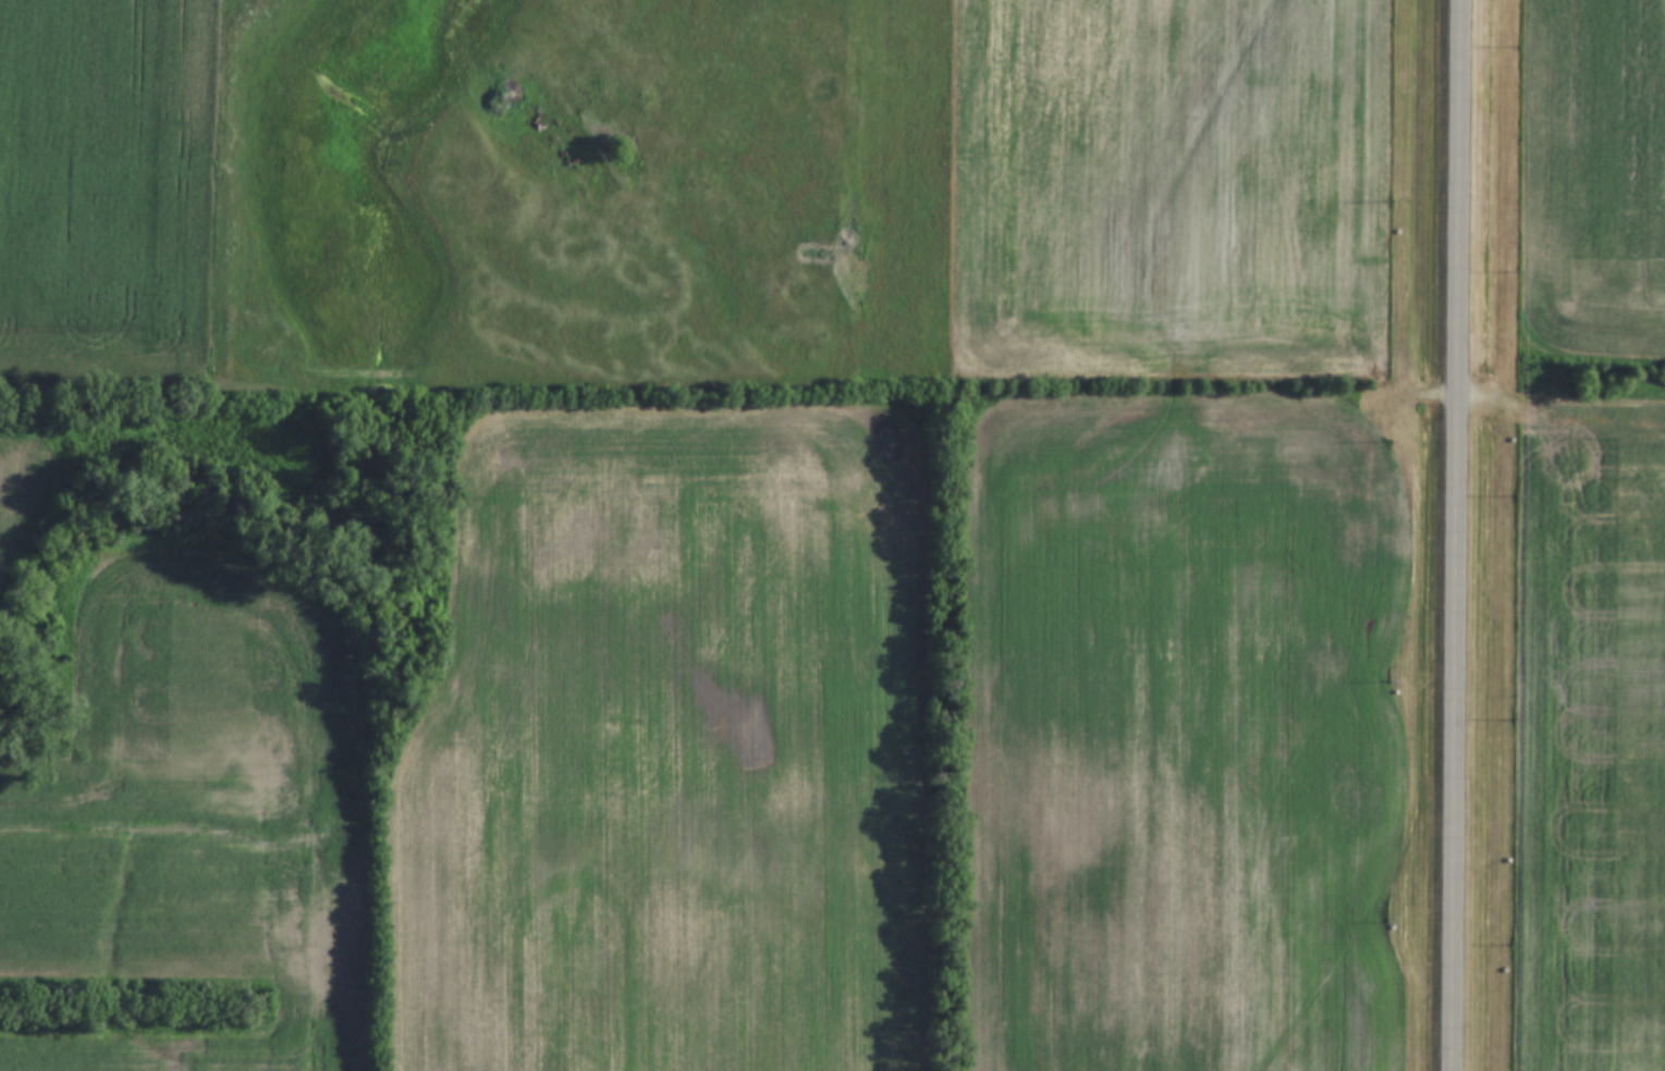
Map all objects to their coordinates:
road: (1462, 535)

